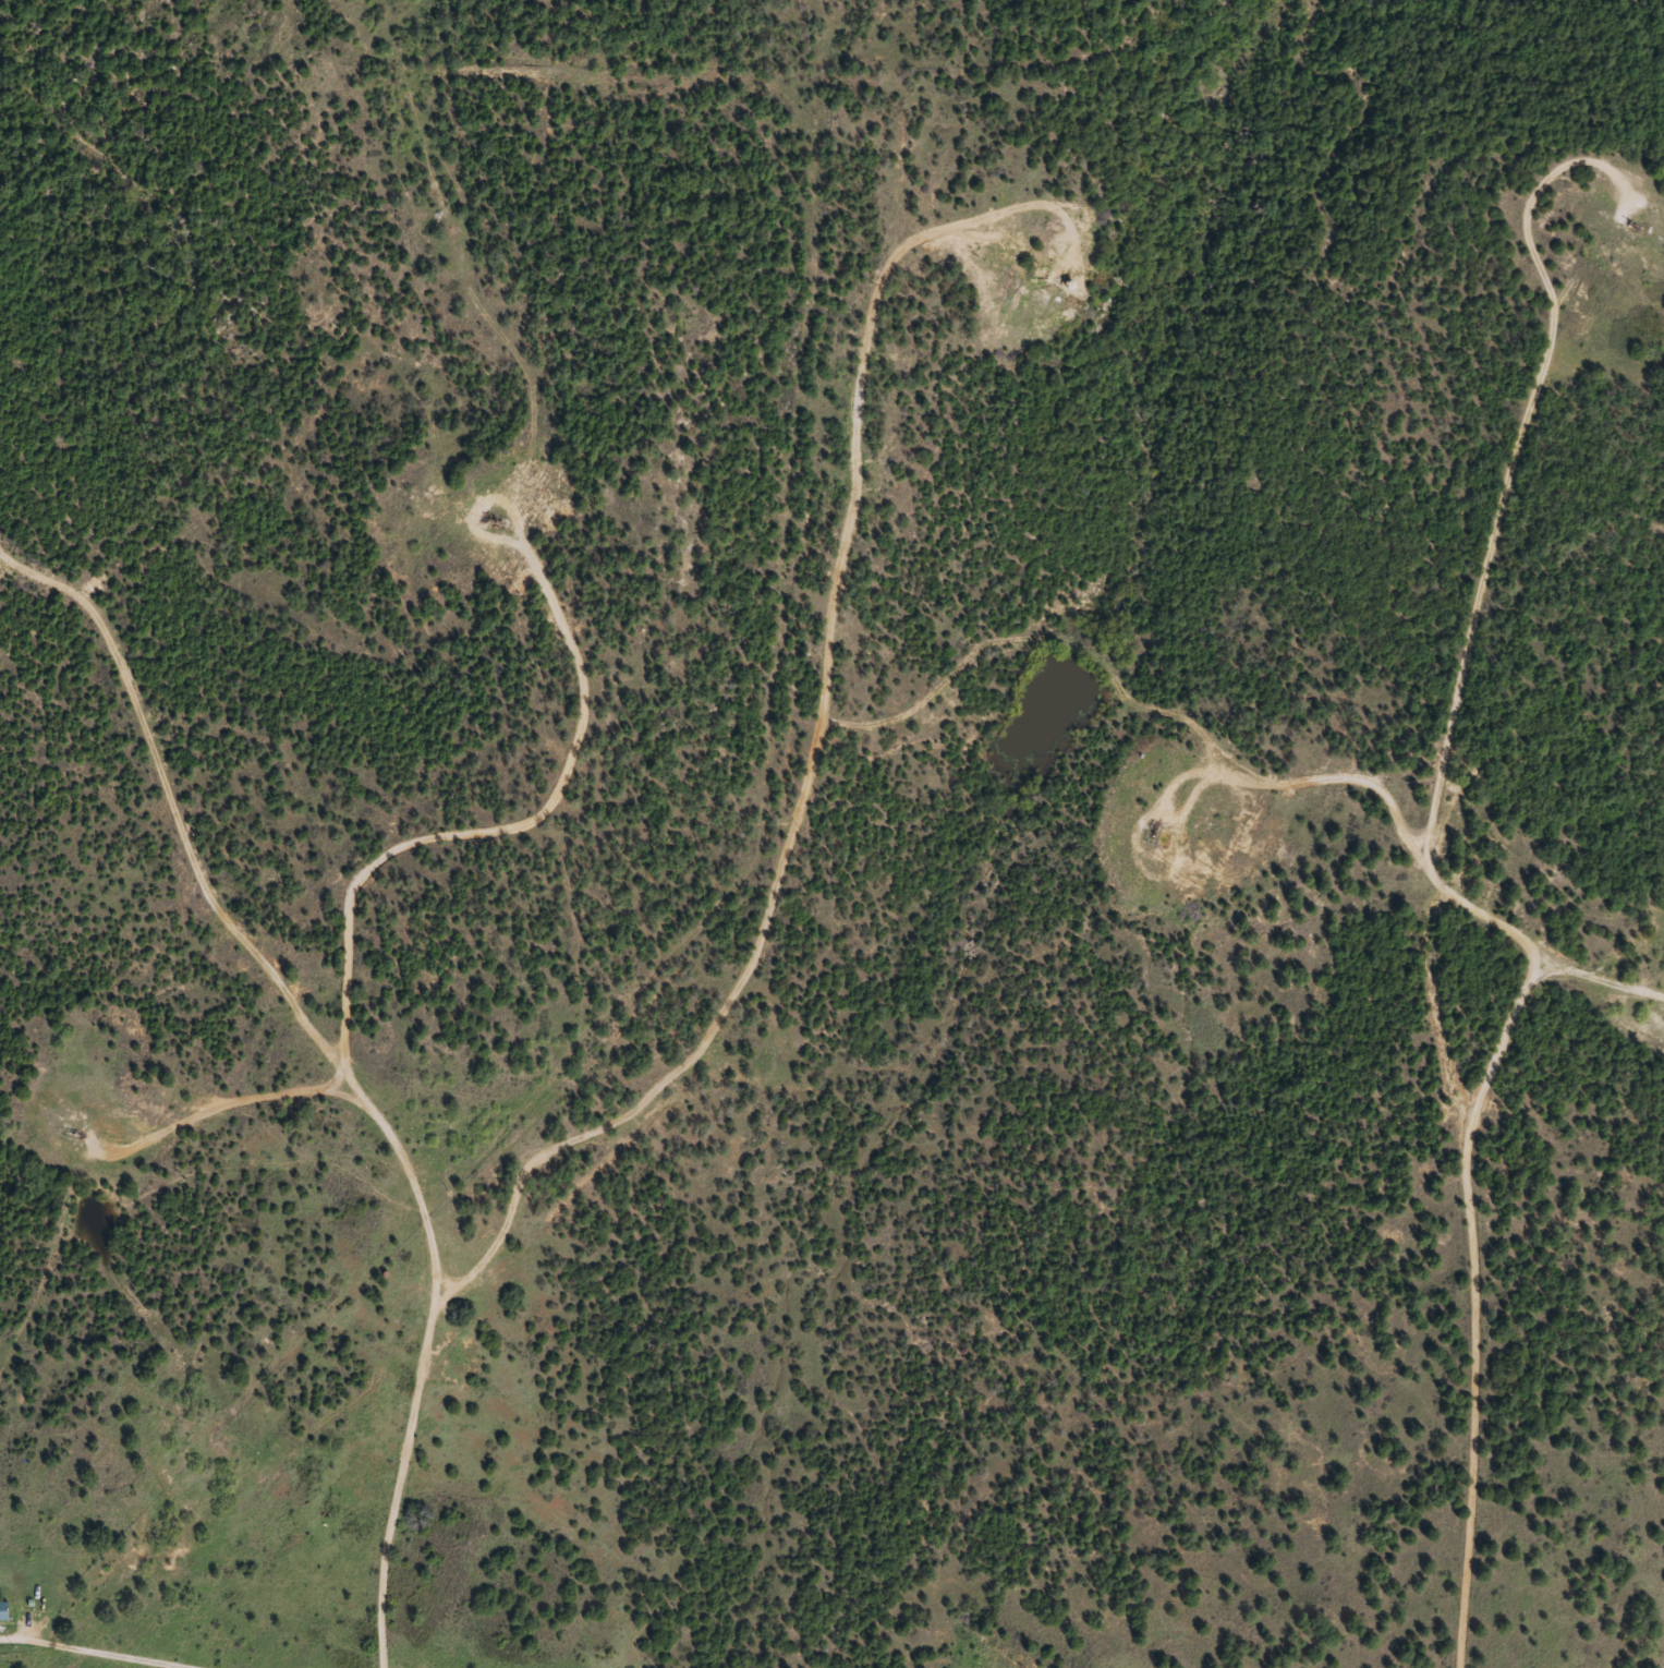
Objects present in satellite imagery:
building: (3, 1612)

